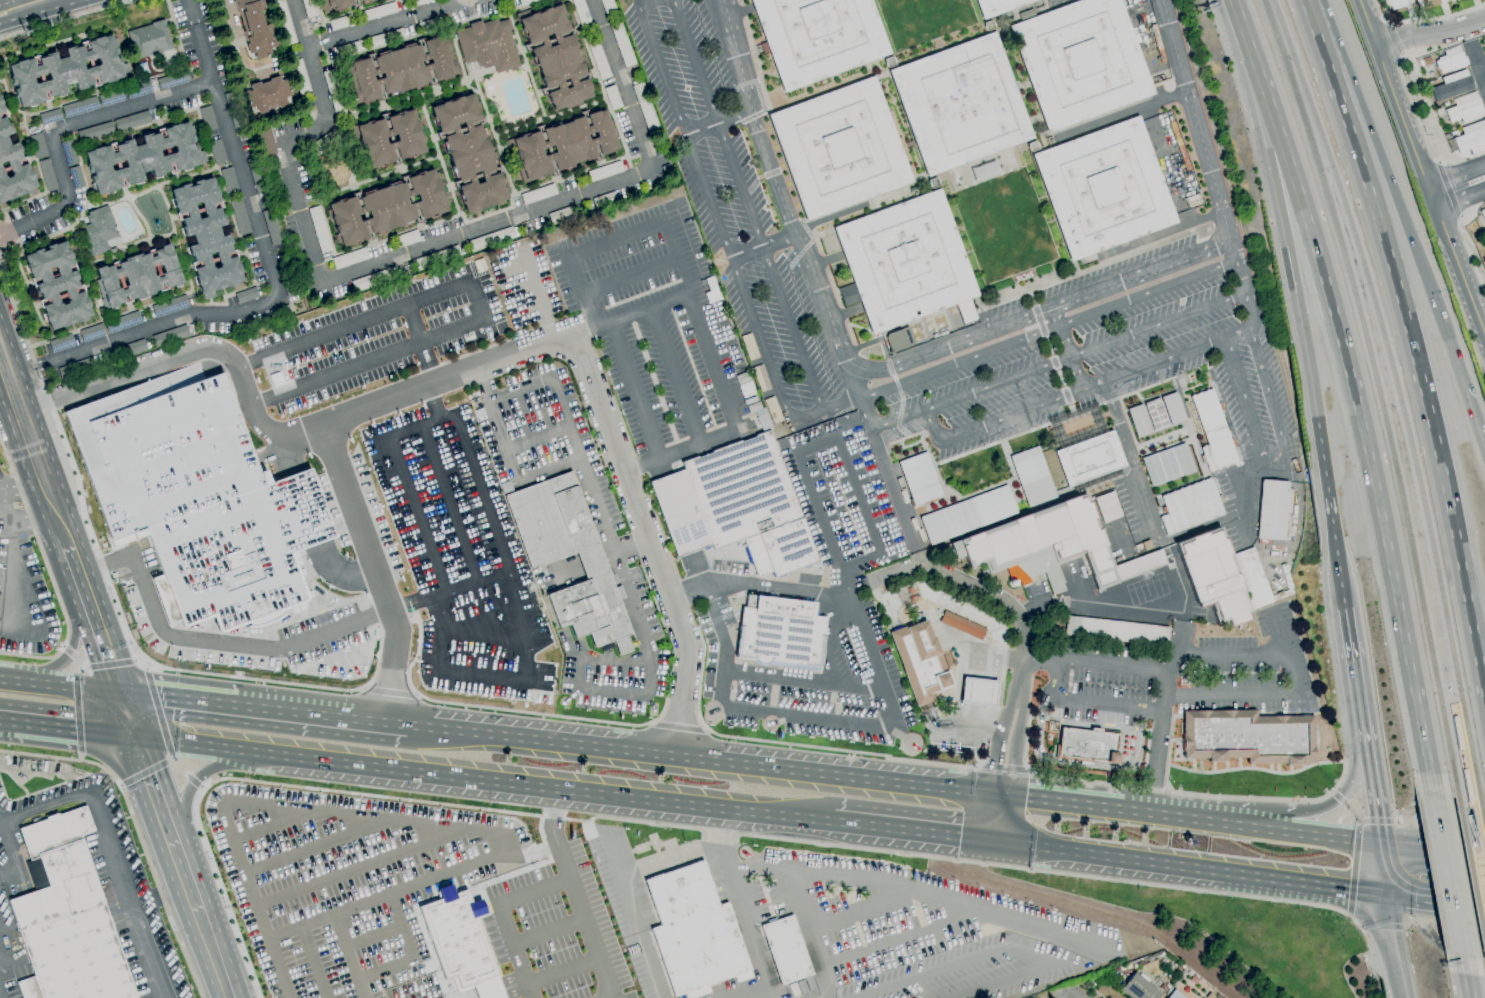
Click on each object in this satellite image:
road: (3, 0)
building: (1451, 0)
road: (1, 1)
building: (367, 1)
road: (1056, 1)
building: (420, 2)
building: (527, 2)
building: (1396, 3)
building: (1427, 3)
building: (338, 4)
road: (447, 4)
road: (1307, 4)
building: (997, 6)
building: (310, 8)
building: (609, 8)
road: (191, 12)
building: (379, 12)
road: (980, 13)
building: (582, 14)
road: (28, 15)
road: (64, 19)
road: (1424, 20)
building: (284, 22)
building: (341, 22)
road: (298, 23)
building: (431, 24)
building: (988, 25)
road: (372, 26)
building: (255, 28)
road: (881, 30)
road: (1431, 32)
building: (818, 37)
building: (387, 38)
building: (150, 39)
road: (1394, 39)
building: (1484, 42)
building: (622, 43)
road: (238, 44)
building: (488, 46)
building: (349, 48)
road: (769, 49)
road: (203, 51)
building: (555, 56)
building: (598, 56)
road: (1250, 56)
road: (900, 57)
building: (1450, 60)
building: (1081, 61)
building: (889, 62)
road: (1476, 64)
building: (66, 70)
building: (401, 70)
building: (300, 77)
building: (174, 80)
road: (1020, 81)
building: (1452, 85)
building: (139, 89)
building: (335, 92)
road: (1394, 92)
building: (269, 94)
building: (112, 97)
building: (613, 97)
building: (961, 104)
building: (1446, 104)
building: (645, 106)
road: (1192, 106)
building: (81, 107)
building: (1465, 108)
building: (235, 109)
road: (1121, 113)
road: (1416, 114)
building: (50, 116)
building: (208, 118)
road: (74, 121)
building: (132, 121)
road: (716, 122)
road: (901, 123)
building: (96, 131)
building: (1455, 133)
road: (1045, 135)
building: (1469, 138)
building: (410, 139)
building: (327, 140)
building: (268, 142)
building: (39, 145)
building: (564, 145)
building: (1179, 145)
building: (1032, 146)
road: (1034, 147)
building: (840, 148)
building: (70, 152)
building: (218, 152)
building: (469, 153)
building: (142, 158)
building: (13, 164)
building: (666, 168)
building: (605, 171)
road: (1386, 174)
building: (48, 175)
building: (258, 175)
road: (1457, 175)
building: (77, 177)
building: (229, 180)
building: (933, 182)
building: (1104, 189)
road: (1448, 190)
road: (896, 192)
building: (538, 194)
road: (1433, 196)
road: (1461, 198)
building: (606, 200)
road: (1052, 203)
road: (747, 204)
building: (387, 207)
building: (1483, 214)
building: (561, 215)
building: (240, 217)
road: (829, 217)
road: (649, 222)
building: (272, 225)
road: (1228, 226)
road: (15, 227)
building: (320, 229)
building: (99, 231)
road: (1162, 233)
building: (1482, 233)
building: (207, 236)
building: (1484, 237)
building: (408, 238)
building: (491, 239)
road: (447, 240)
road: (762, 243)
road: (724, 245)
road: (1153, 245)
road: (1469, 248)
road: (960, 257)
building: (350, 258)
building: (438, 258)
building: (907, 262)
road: (1289, 264)
road: (1461, 270)
road: (1079, 274)
road: (628, 275)
building: (138, 276)
building: (288, 278)
building: (375, 279)
building: (483, 282)
parking lot: (1156, 282)
road: (1243, 284)
building: (58, 285)
road: (1148, 293)
building: (246, 295)
building: (846, 295)
road: (537, 296)
road: (266, 298)
road: (1031, 299)
road: (477, 301)
building: (171, 306)
road: (651, 308)
building: (284, 310)
road: (1054, 316)
road: (1038, 320)
building: (123, 322)
road: (583, 330)
building: (92, 332)
building: (171, 336)
building: (898, 339)
building: (62, 343)
building: (748, 346)
road: (1048, 346)
traffic signals: (1450, 346)
road: (1414, 347)
building: (128, 350)
road: (189, 355)
road: (1068, 356)
road: (958, 361)
road: (1058, 361)
road: (1053, 362)
road: (428, 363)
building: (77, 367)
road: (26, 369)
road: (857, 370)
road: (675, 377)
building: (760, 377)
road: (1059, 378)
road: (482, 385)
building: (744, 385)
road: (1078, 389)
railway: (1380, 393)
railway: (1399, 393)
road: (1066, 394)
road: (1246, 400)
road: (1467, 400)
road: (1271, 403)
road: (432, 404)
road: (1071, 408)
building: (1172, 408)
building: (772, 409)
building: (1156, 415)
road: (604, 416)
building: (411, 418)
building: (1139, 421)
road: (535, 432)
building: (1213, 432)
road: (1365, 448)
road: (32, 450)
building: (1086, 450)
road: (280, 453)
road: (880, 454)
road: (1130, 458)
building: (1166, 464)
road: (643, 466)
road: (512, 474)
building: (1031, 476)
building: (918, 478)
road: (23, 489)
road: (1245, 496)
building: (200, 497)
road: (860, 497)
road: (596, 501)
road: (448, 503)
road: (1330, 503)
building: (736, 504)
building: (1106, 506)
building: (1190, 506)
road: (302, 509)
building: (1274, 512)
building: (966, 514)
road: (486, 518)
road: (32, 520)
road: (1200, 527)
road: (631, 542)
building: (427, 546)
building: (1050, 547)
building: (540, 559)
road: (18, 563)
road: (75, 566)
road: (375, 571)
road: (339, 573)
road: (47, 574)
building: (1224, 576)
building: (1286, 577)
road: (110, 584)
road: (776, 588)
road: (446, 590)
road: (985, 591)
road: (690, 594)
building: (908, 594)
building: (480, 595)
road: (878, 596)
road: (945, 598)
road: (476, 618)
road: (715, 620)
building: (962, 625)
road: (18, 630)
building: (1117, 630)
building: (781, 633)
road: (831, 638)
road: (101, 642)
road: (212, 642)
road: (67, 650)
road: (980, 653)
flagpole: (171, 654)
road: (137, 657)
road: (1230, 657)
road: (1094, 661)
building: (922, 663)
road: (105, 665)
road: (150, 666)
road: (913, 670)
road: (578, 673)
flagpole: (420, 680)
road: (804, 682)
road: (59, 687)
road: (389, 688)
flagpole: (558, 689)
building: (979, 692)
gas station: (979, 692)
road: (979, 692)
traffic signals: (120, 693)
road: (1276, 695)
road: (77, 697)
road: (1087, 702)
flagpole: (702, 706)
road: (263, 709)
road: (1348, 710)
road: (532, 713)
road: (127, 715)
road: (159, 715)
road: (1040, 718)
road: (1361, 718)
road: (1161, 720)
road: (7, 722)
road: (1090, 724)
road: (876, 725)
road: (935, 725)
road: (678, 727)
road: (75, 730)
road: (1140, 730)
road: (975, 731)
building: (1457, 733)
railway: (1453, 736)
building: (1248, 737)
traffic signals: (135, 738)
road: (998, 742)
building: (1087, 745)
road: (797, 746)
road: (1017, 746)
flagpole: (1063, 753)
flagpole: (1094, 756)
road: (79, 757)
flagpole: (1107, 758)
road: (1146, 758)
road: (699, 759)
road: (1084, 764)
road: (1005, 767)
road: (146, 772)
road: (184, 773)
flagpole: (73, 775)
road: (483, 780)
road: (194, 782)
road: (121, 785)
road: (201, 786)
building: (1467, 786)
road: (153, 788)
road: (1169, 792)
traffic signals: (992, 795)
road: (1003, 796)
traffic signals: (1015, 797)
road: (1068, 803)
road: (43, 805)
road: (1346, 805)
road: (1438, 808)
railway: (1482, 814)
road: (1253, 816)
road: (993, 818)
road: (1004, 819)
road: (1379, 821)
road: (424, 824)
road: (265, 827)
road: (1252, 827)
road: (1441, 827)
road: (690, 828)
road: (913, 830)
road: (137, 831)
traffic signals: (994, 841)
flagpole: (683, 843)
traffic signals: (1382, 846)
road: (304, 847)
road: (1433, 851)
road: (12, 857)
road: (1109, 857)
road: (673, 861)
road: (1355, 867)
road: (1383, 868)
road: (349, 870)
railway: (1471, 872)
building: (36, 873)
road: (8, 874)
road: (1446, 874)
road: (186, 879)
road: (1304, 883)
road: (924, 890)
traffic signals: (1384, 891)
road: (128, 892)
road: (576, 894)
road: (1434, 896)
road: (741, 903)
road: (1085, 908)
road: (865, 910)
road: (637, 915)
road: (501, 916)
building: (67, 918)
road: (1442, 921)
road: (1383, 927)
road: (548, 929)
building: (694, 931)
road: (67, 932)
road: (809, 933)
road: (371, 935)
road: (903, 940)
road: (78, 942)
road: (1393, 944)
building: (458, 945)
road: (44, 946)
road: (1446, 946)
building: (787, 949)
road: (407, 952)
road: (0, 954)
road: (347, 954)
road: (1026, 954)
road: (215, 959)
road: (312, 959)
road: (18, 962)
road: (99, 962)
road: (1359, 963)
road: (275, 966)
road: (563, 969)
road: (927, 972)
building: (1171, 976)
road: (1464, 977)
road: (997, 980)
building: (1166, 987)
road: (29, 988)
building: (1139, 988)
road: (1092, 989)
road: (753, 993)
road: (1069, 995)
building: (1175, 995)
road: (610, 996)
building: (1162, 996)

